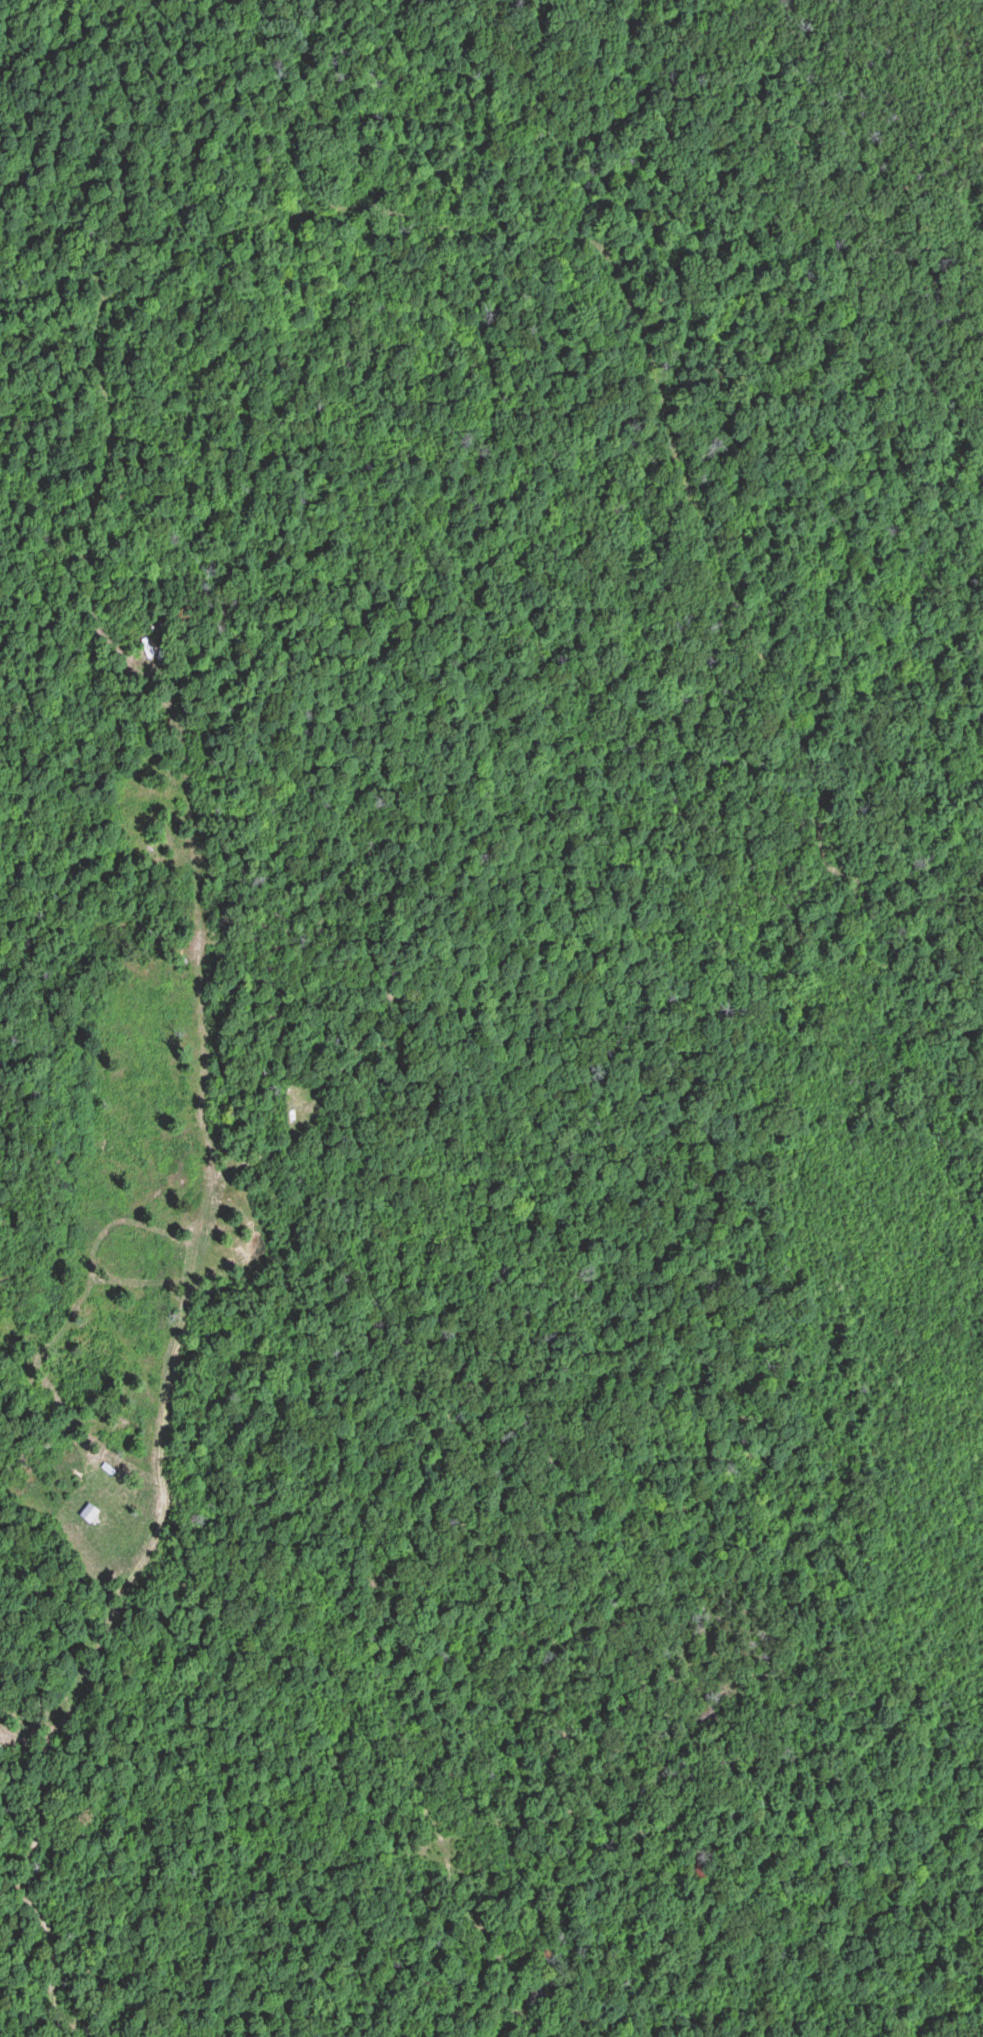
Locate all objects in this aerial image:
road: (831, 23)

